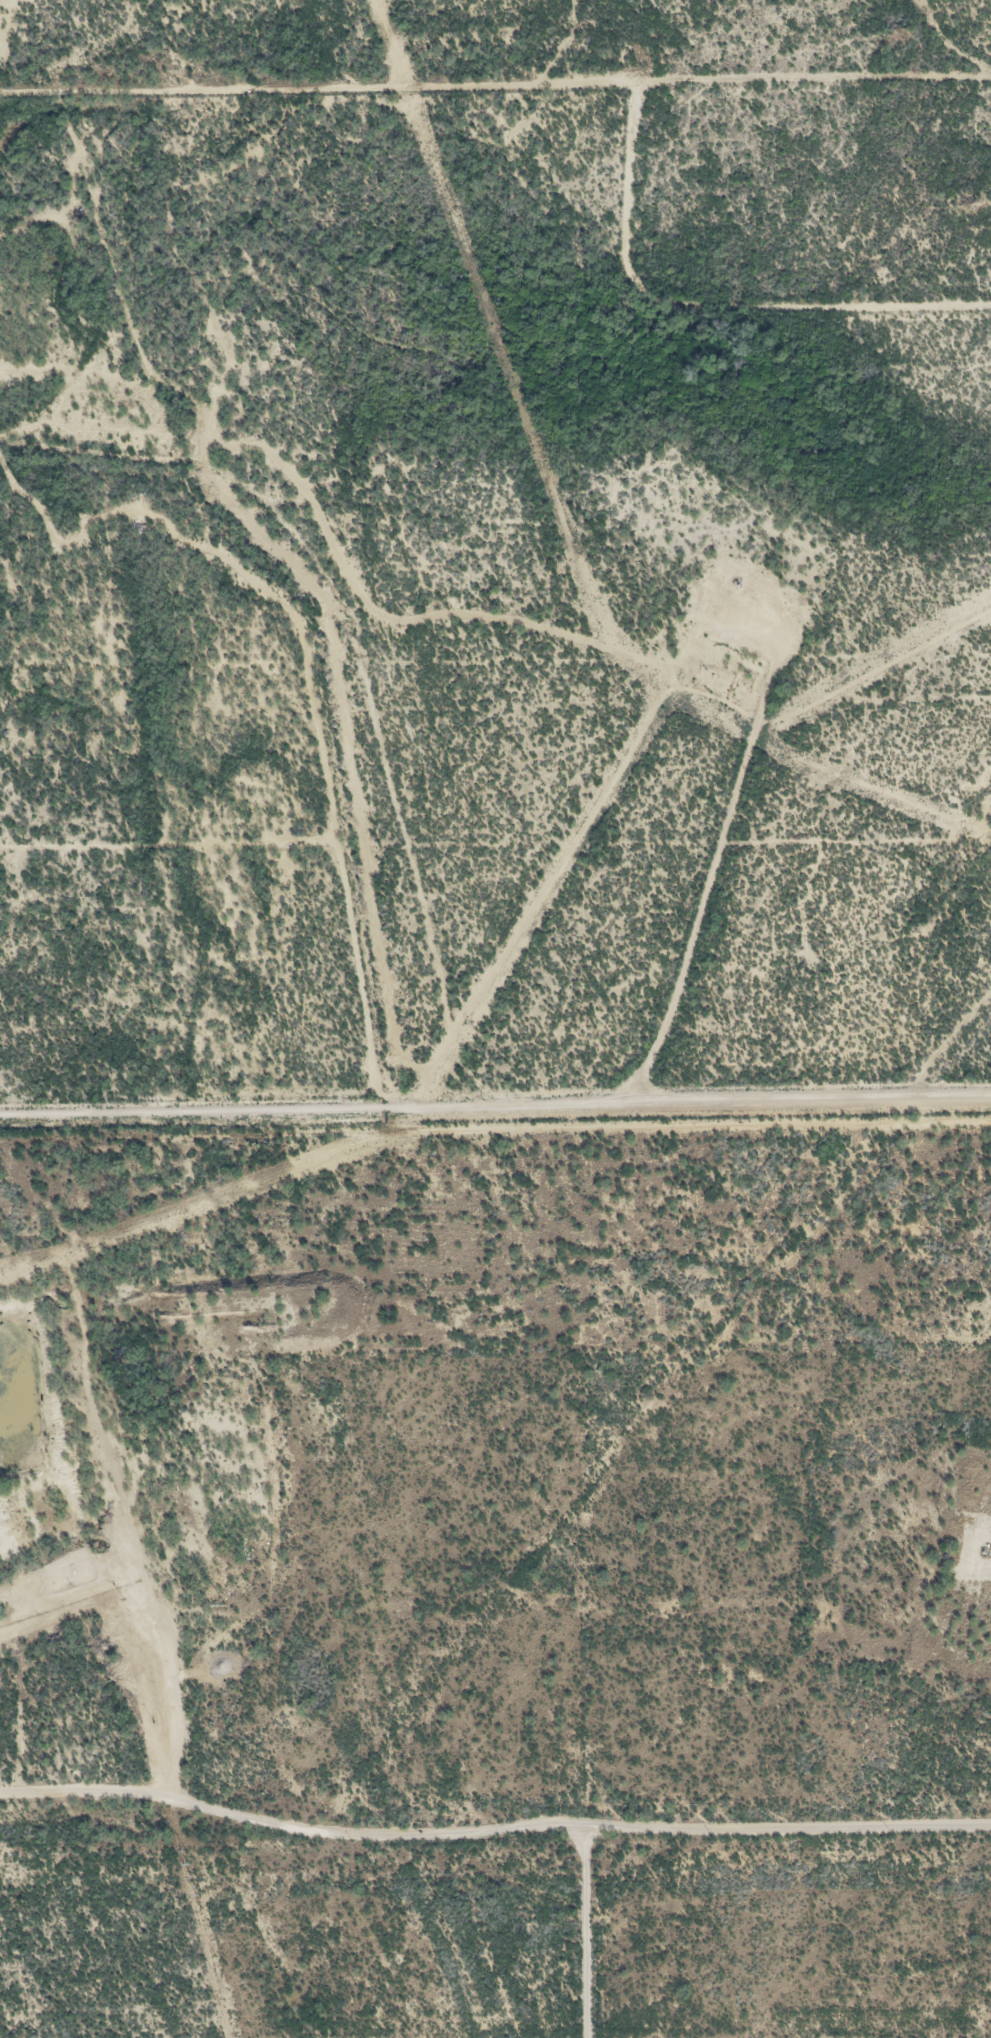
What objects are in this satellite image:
road: (495, 1115)
road: (493, 1841)

